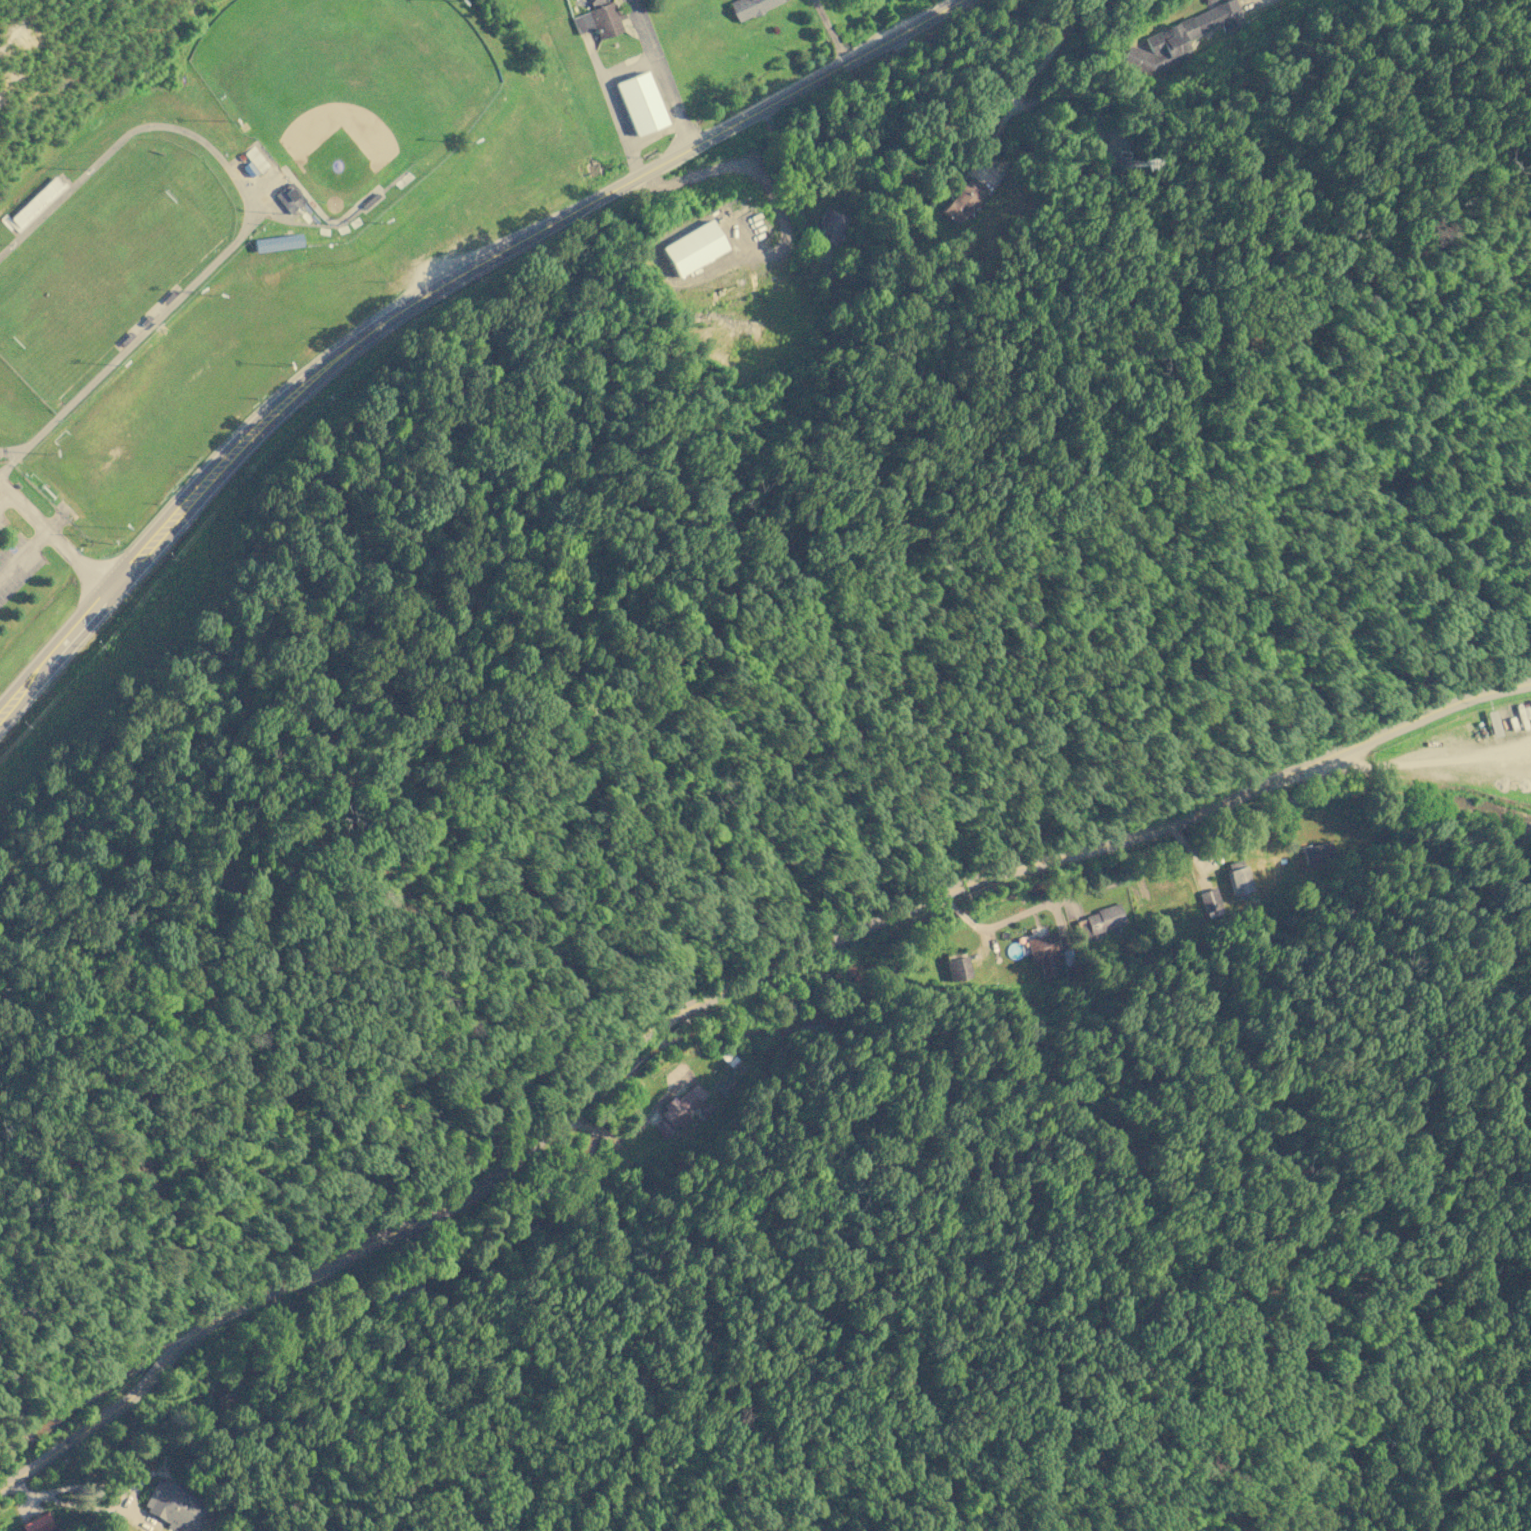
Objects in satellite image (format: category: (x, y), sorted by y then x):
building: (1206, 1)
building: (749, 7)
building: (597, 21)
road: (1046, 30)
road: (829, 31)
building: (1180, 37)
park: (71, 64)
road: (629, 68)
road: (662, 72)
park: (342, 86)
building: (639, 103)
road: (611, 106)
road: (655, 135)
road: (665, 158)
road: (781, 172)
road: (769, 192)
building: (287, 199)
building: (962, 200)
building: (37, 203)
building: (830, 225)
building: (276, 243)
building: (692, 248)
park: (97, 272)
road: (232, 445)
road: (4, 497)
road: (181, 522)
road: (57, 542)
road: (23, 554)
parking lot: (15, 561)
road: (53, 642)
building: (1317, 852)
building: (1237, 877)
building: (1210, 903)
building: (1165, 907)
building: (1098, 922)
building: (1045, 954)
building: (957, 968)
building: (846, 974)
road: (714, 996)
building: (679, 1110)
building: (174, 1505)
road: (115, 1509)
building: (37, 1523)

